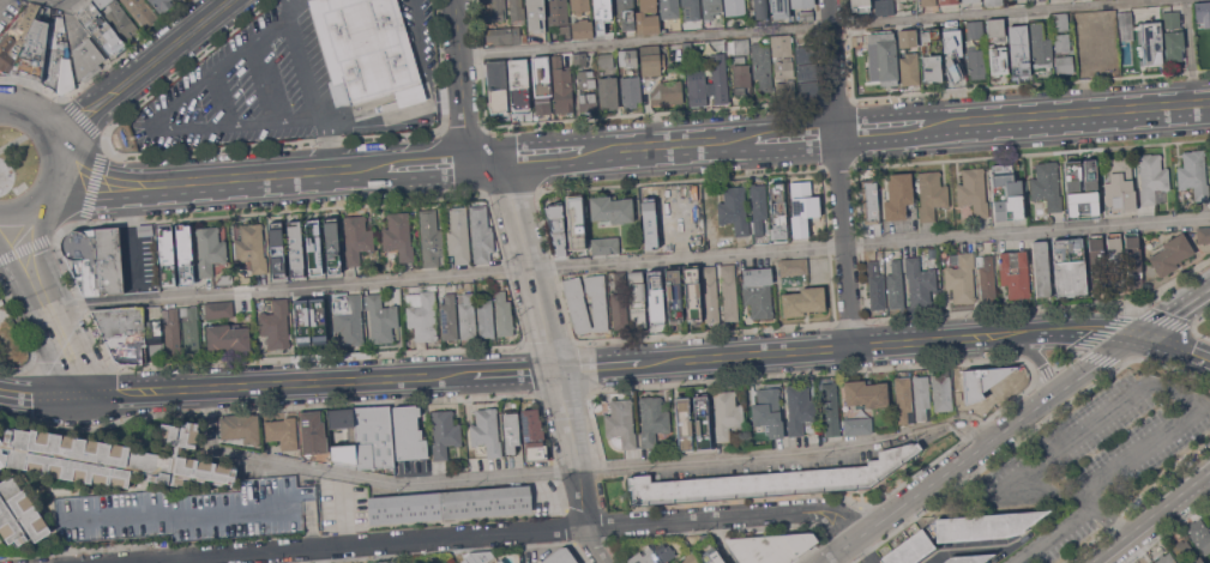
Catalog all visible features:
building: (970, 0)
road: (58, 1)
building: (949, 1)
road: (1, 2)
building: (928, 2)
building: (994, 2)
building: (162, 4)
building: (802, 4)
building: (860, 5)
building: (580, 6)
building: (693, 7)
building: (711, 7)
building: (735, 7)
building: (884, 7)
road: (287, 8)
building: (669, 8)
building: (759, 8)
building: (779, 8)
building: (142, 11)
building: (494, 11)
building: (517, 12)
building: (558, 12)
building: (626, 13)
building: (1203, 13)
building: (536, 14)
building: (602, 14)
building: (806, 16)
building: (648, 17)
building: (120, 19)
building: (1061, 22)
road: (806, 25)
building: (1125, 26)
building: (583, 28)
building: (101, 30)
building: (975, 30)
building: (995, 30)
building: (565, 32)
building: (1173, 35)
building: (17, 36)
building: (504, 36)
building: (907, 37)
building: (1151, 41)
building: (1062, 42)
building: (1095, 42)
building: (782, 46)
building: (739, 47)
building: (1041, 47)
building: (34, 48)
building: (368, 49)
building: (1019, 50)
building: (953, 52)
road: (1190, 52)
building: (806, 53)
building: (628, 57)
building: (884, 57)
building: (86, 59)
building: (580, 59)
building: (58, 60)
building: (604, 60)
building: (998, 60)
building: (651, 61)
road: (425, 62)
building: (976, 62)
building: (761, 65)
building: (1065, 65)
road: (303, 67)
building: (784, 67)
building: (932, 68)
building: (910, 69)
road: (140, 71)
building: (807, 72)
building: (741, 75)
building: (586, 78)
building: (720, 78)
road: (266, 80)
road: (460, 80)
parking lot: (279, 85)
building: (519, 85)
building: (541, 85)
building: (496, 86)
building: (562, 86)
building: (697, 86)
building: (808, 89)
building: (785, 90)
building: (631, 91)
building: (667, 92)
building: (608, 93)
road: (219, 98)
building: (586, 102)
road: (380, 116)
road: (153, 122)
road: (44, 129)
road: (854, 129)
road: (20, 138)
road: (329, 143)
park: (14, 159)
road: (838, 172)
building: (1194, 174)
road: (276, 175)
building: (1152, 177)
building: (1080, 182)
building: (1119, 184)
building: (1047, 186)
building: (973, 192)
building: (1007, 192)
building: (932, 194)
building: (898, 195)
building: (869, 198)
road: (40, 206)
building: (802, 206)
building: (612, 208)
building: (734, 210)
building: (758, 211)
building: (778, 212)
building: (693, 213)
building: (661, 216)
road: (4, 222)
building: (556, 222)
building: (577, 228)
building: (144, 230)
building: (481, 234)
building: (1203, 234)
building: (458, 235)
building: (398, 236)
building: (431, 237)
building: (357, 238)
building: (331, 244)
building: (606, 246)
building: (252, 247)
building: (313, 247)
building: (295, 248)
building: (277, 249)
building: (210, 250)
building: (185, 254)
building: (1169, 254)
building: (167, 255)
road: (630, 260)
building: (1133, 260)
building: (96, 261)
road: (529, 261)
building: (1115, 261)
building: (1097, 264)
building: (794, 266)
building: (1070, 266)
building: (1041, 268)
building: (1015, 273)
building: (961, 278)
building: (987, 278)
building: (224, 279)
building: (920, 281)
building: (895, 285)
building: (875, 286)
building: (758, 291)
building: (674, 292)
building: (692, 292)
building: (729, 292)
building: (710, 295)
building: (656, 298)
building: (637, 299)
building: (803, 301)
building: (619, 302)
road: (47, 305)
building: (218, 310)
building: (578, 311)
road: (1174, 313)
building: (422, 314)
building: (504, 314)
building: (468, 315)
building: (486, 315)
building: (449, 317)
building: (1, 319)
building: (348, 319)
building: (381, 319)
building: (276, 325)
building: (308, 325)
building: (191, 329)
building: (122, 333)
building: (173, 333)
traffic signals: (1137, 334)
building: (153, 335)
building: (228, 338)
road: (847, 345)
road: (1173, 345)
road: (1035, 357)
road: (318, 380)
building: (866, 393)
building: (943, 393)
road: (40, 394)
building: (921, 396)
building: (903, 399)
road: (1121, 400)
building: (800, 408)
building: (830, 408)
building: (769, 411)
building: (727, 413)
building: (652, 420)
building: (621, 423)
building: (859, 425)
building: (241, 428)
building: (703, 430)
building: (487, 431)
building: (511, 431)
building: (684, 431)
building: (283, 432)
building: (313, 432)
building: (408, 434)
building: (445, 434)
building: (351, 436)
building: (374, 436)
building: (534, 436)
road: (572, 446)
road: (977, 446)
parking lot: (1096, 456)
building: (110, 458)
road: (571, 470)
building: (770, 480)
road: (1179, 491)
building: (450, 504)
road: (838, 509)
building: (188, 511)
building: (19, 514)
road: (826, 523)
building: (985, 525)
road: (1066, 528)
road: (471, 535)
building: (1199, 535)
road: (1116, 539)
road: (592, 545)
building: (771, 547)
road: (963, 547)
building: (1181, 547)
building: (910, 550)
road: (865, 551)
road: (371, 555)
building: (654, 555)
building: (478, 556)
building: (560, 556)
building: (712, 557)
building: (690, 558)
building: (968, 558)
building: (1166, 558)
building: (500, 561)
building: (1197, 561)
building: (1151, 562)

